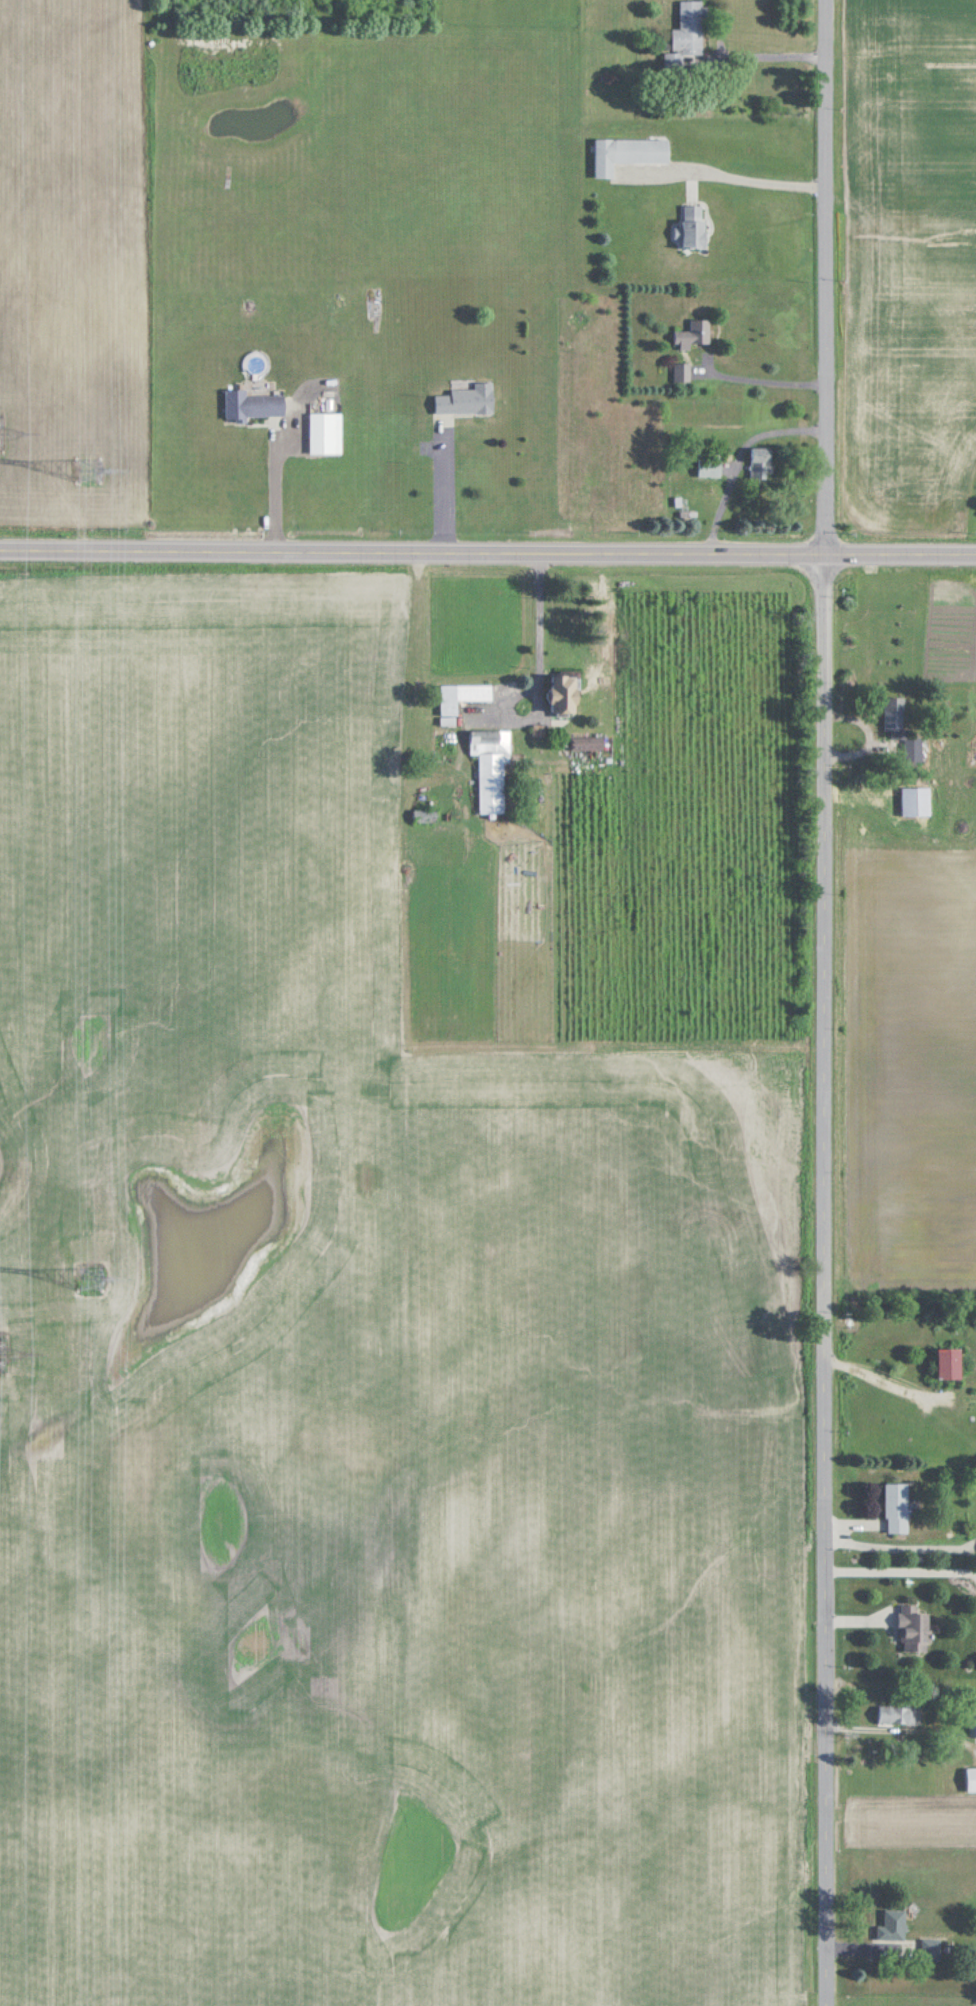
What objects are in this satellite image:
building: (689, 27)
road: (774, 58)
building: (630, 153)
road: (740, 180)
building: (695, 226)
building: (695, 334)
building: (682, 372)
road: (765, 381)
building: (468, 400)
building: (256, 404)
building: (328, 432)
power tower: (82, 451)
building: (762, 462)
building: (711, 467)
road: (449, 488)
road: (283, 492)
road: (488, 549)
road: (544, 631)
building: (567, 695)
building: (464, 696)
building: (896, 716)
building: (593, 743)
building: (493, 767)
building: (918, 801)
building: (426, 816)
road: (825, 1002)
power tower: (93, 1277)
building: (952, 1365)
road: (879, 1393)
building: (898, 1507)
road: (900, 1544)
building: (915, 1628)
building: (898, 1713)
building: (973, 1717)
building: (972, 1777)
building: (898, 1923)
building: (933, 1949)

